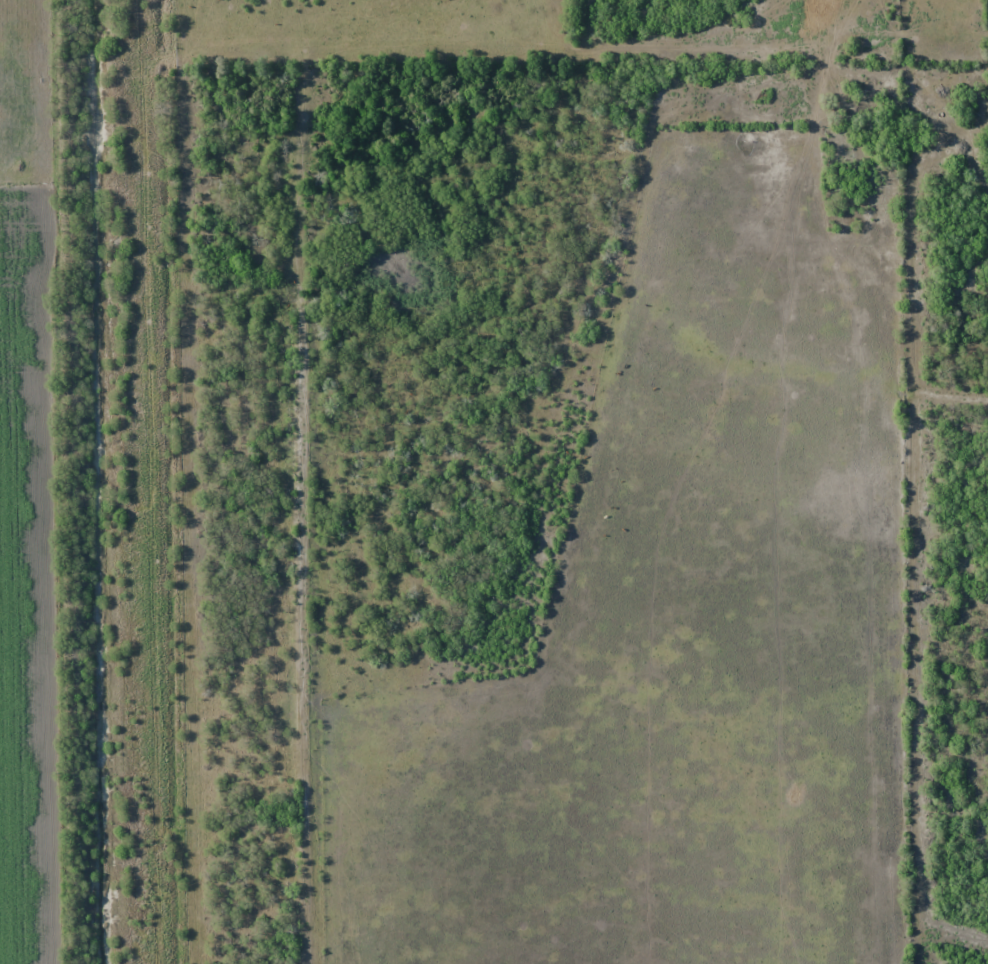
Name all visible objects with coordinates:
road: (916, 22)
road: (722, 48)
road: (305, 441)

